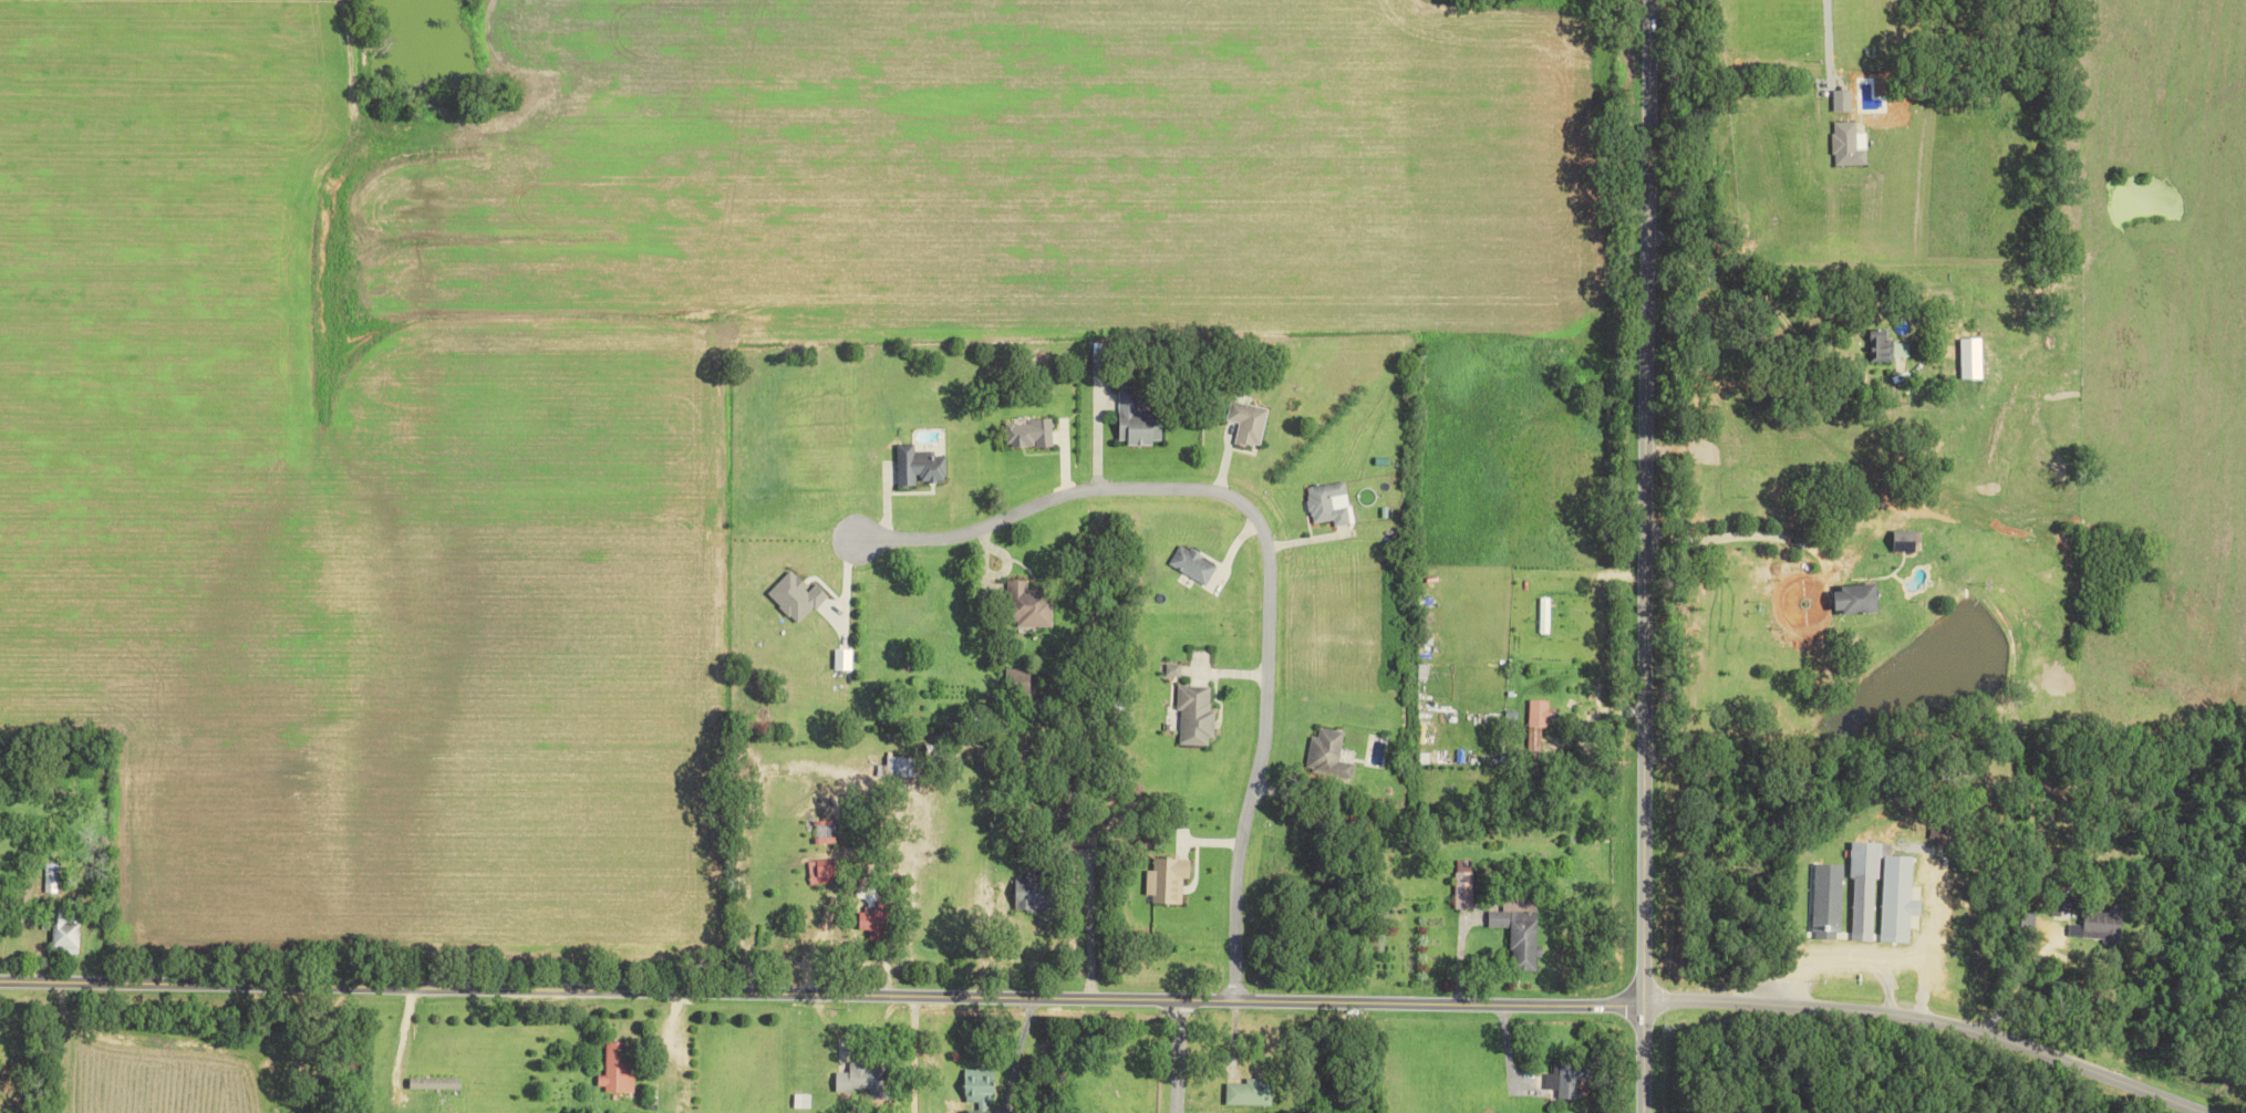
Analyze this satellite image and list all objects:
road: (1829, 38)
building: (1847, 145)
building: (1886, 347)
building: (1099, 358)
building: (1973, 358)
building: (1138, 419)
building: (1250, 423)
building: (1031, 434)
building: (919, 466)
building: (1327, 503)
road: (1745, 535)
building: (1907, 541)
road: (1274, 551)
road: (1645, 555)
building: (1193, 564)
road: (1580, 568)
building: (796, 595)
building: (1861, 600)
building: (1032, 605)
building: (1545, 615)
building: (843, 658)
building: (1173, 669)
building: (1018, 679)
building: (1542, 712)
building: (1196, 715)
building: (1325, 747)
building: (903, 767)
building: (1944, 832)
building: (824, 872)
building: (1168, 880)
building: (1464, 883)
building: (1037, 892)
building: (1884, 893)
building: (1830, 894)
building: (869, 908)
building: (2102, 924)
building: (64, 929)
road: (1096, 930)
building: (1521, 930)
road: (1850, 959)
road: (1924, 971)
road: (821, 994)
road: (1929, 1019)
road: (1018, 1048)
road: (397, 1049)
road: (1183, 1057)
building: (618, 1067)
building: (1570, 1076)
building: (867, 1079)
building: (435, 1083)
building: (981, 1086)
building: (1250, 1092)

